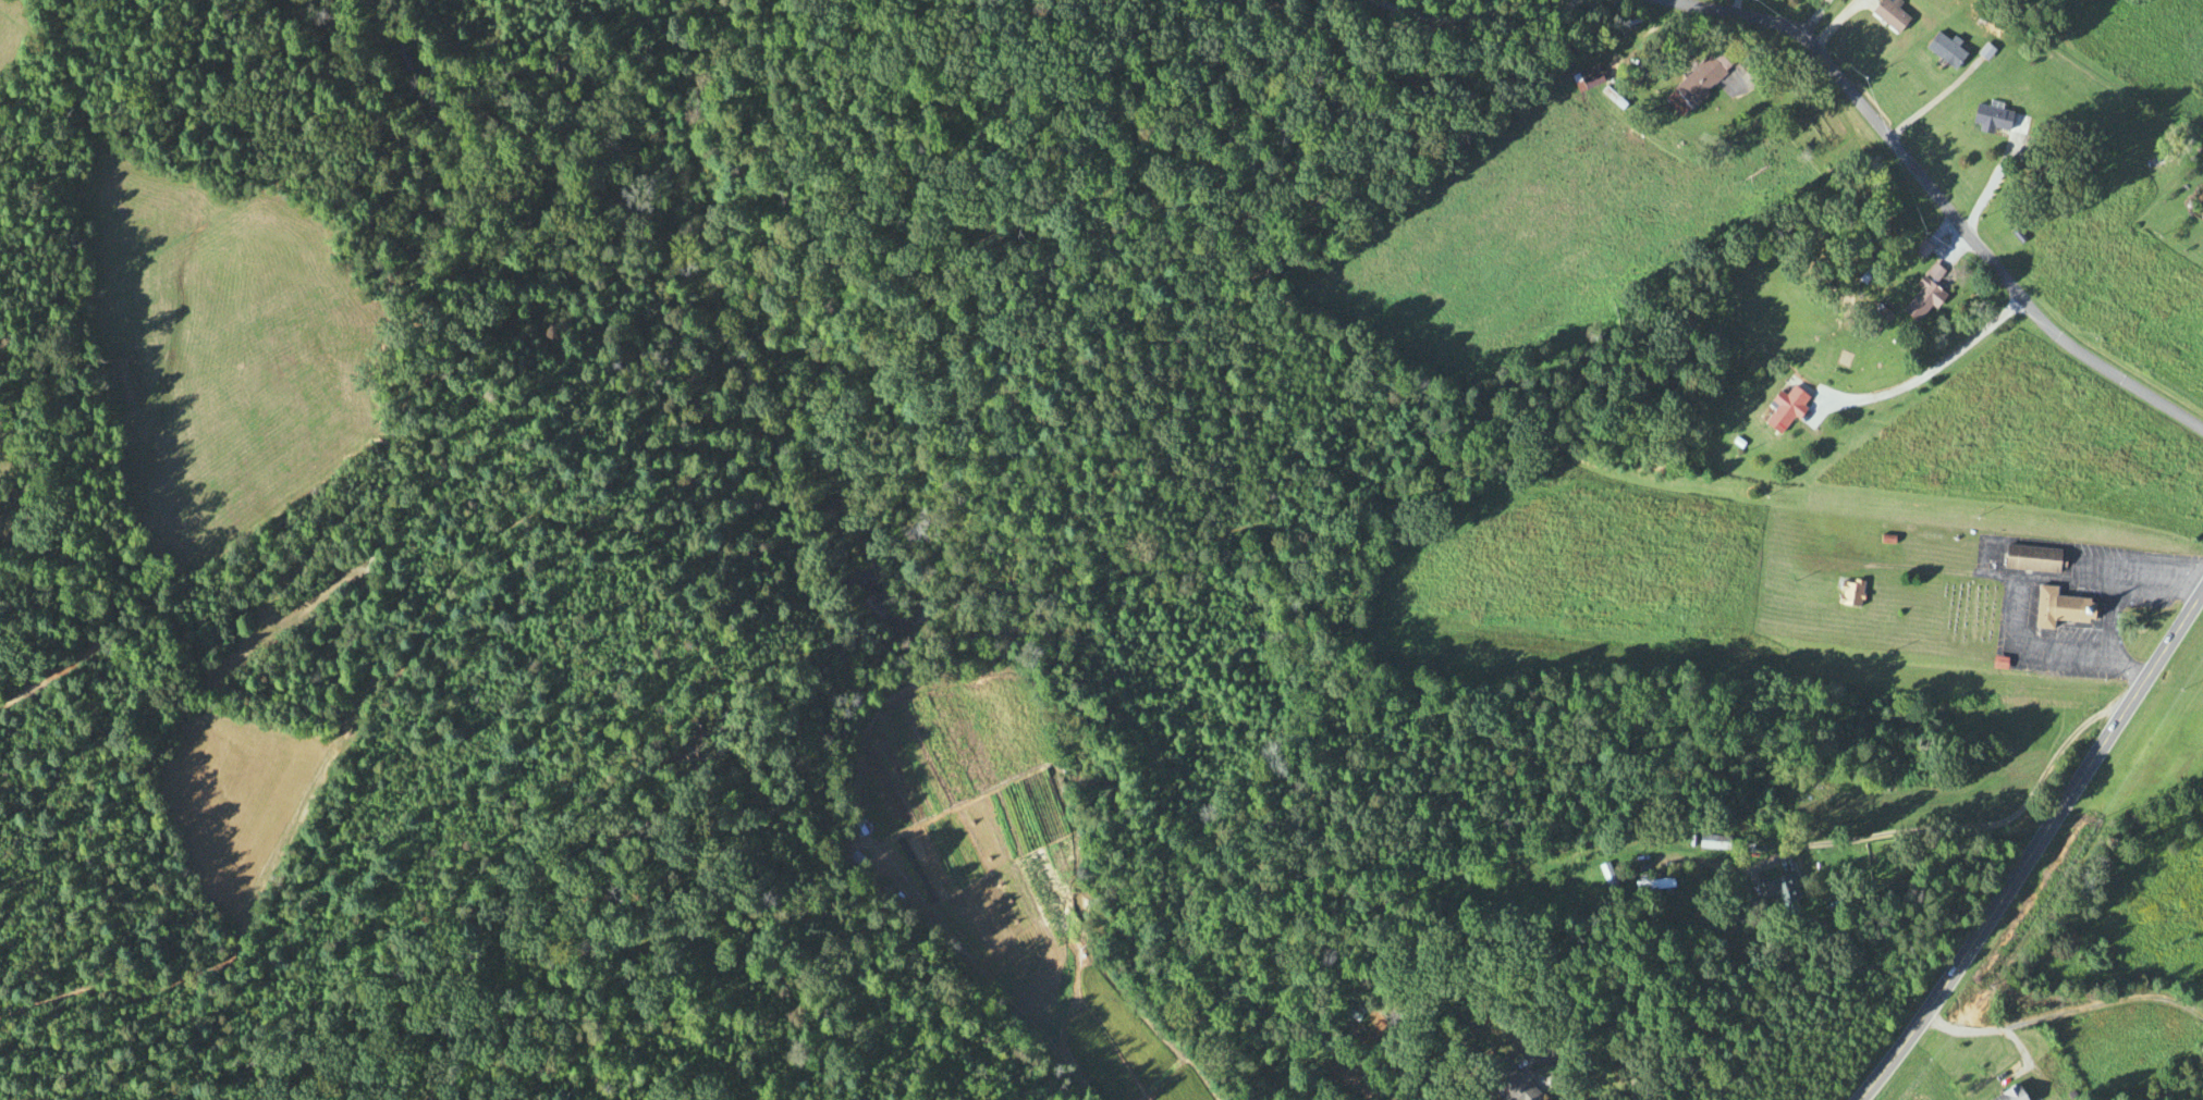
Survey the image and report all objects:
building: (1888, 16)
road: (1478, 17)
building: (1943, 52)
building: (1586, 79)
building: (1698, 82)
building: (1990, 120)
building: (2157, 163)
road: (1994, 181)
road: (1932, 196)
building: (2201, 218)
building: (1921, 251)
building: (1933, 274)
building: (1921, 302)
building: (1874, 323)
road: (1931, 371)
building: (1784, 411)
building: (2031, 559)
building: (1848, 593)
building: (2058, 608)
road: (1966, 829)
building: (1711, 842)
road: (2035, 848)
building: (1605, 877)
building: (1652, 883)
building: (1780, 892)
building: (1353, 1012)
road: (2064, 1014)
road: (2017, 1047)
building: (1511, 1084)
building: (2008, 1095)

